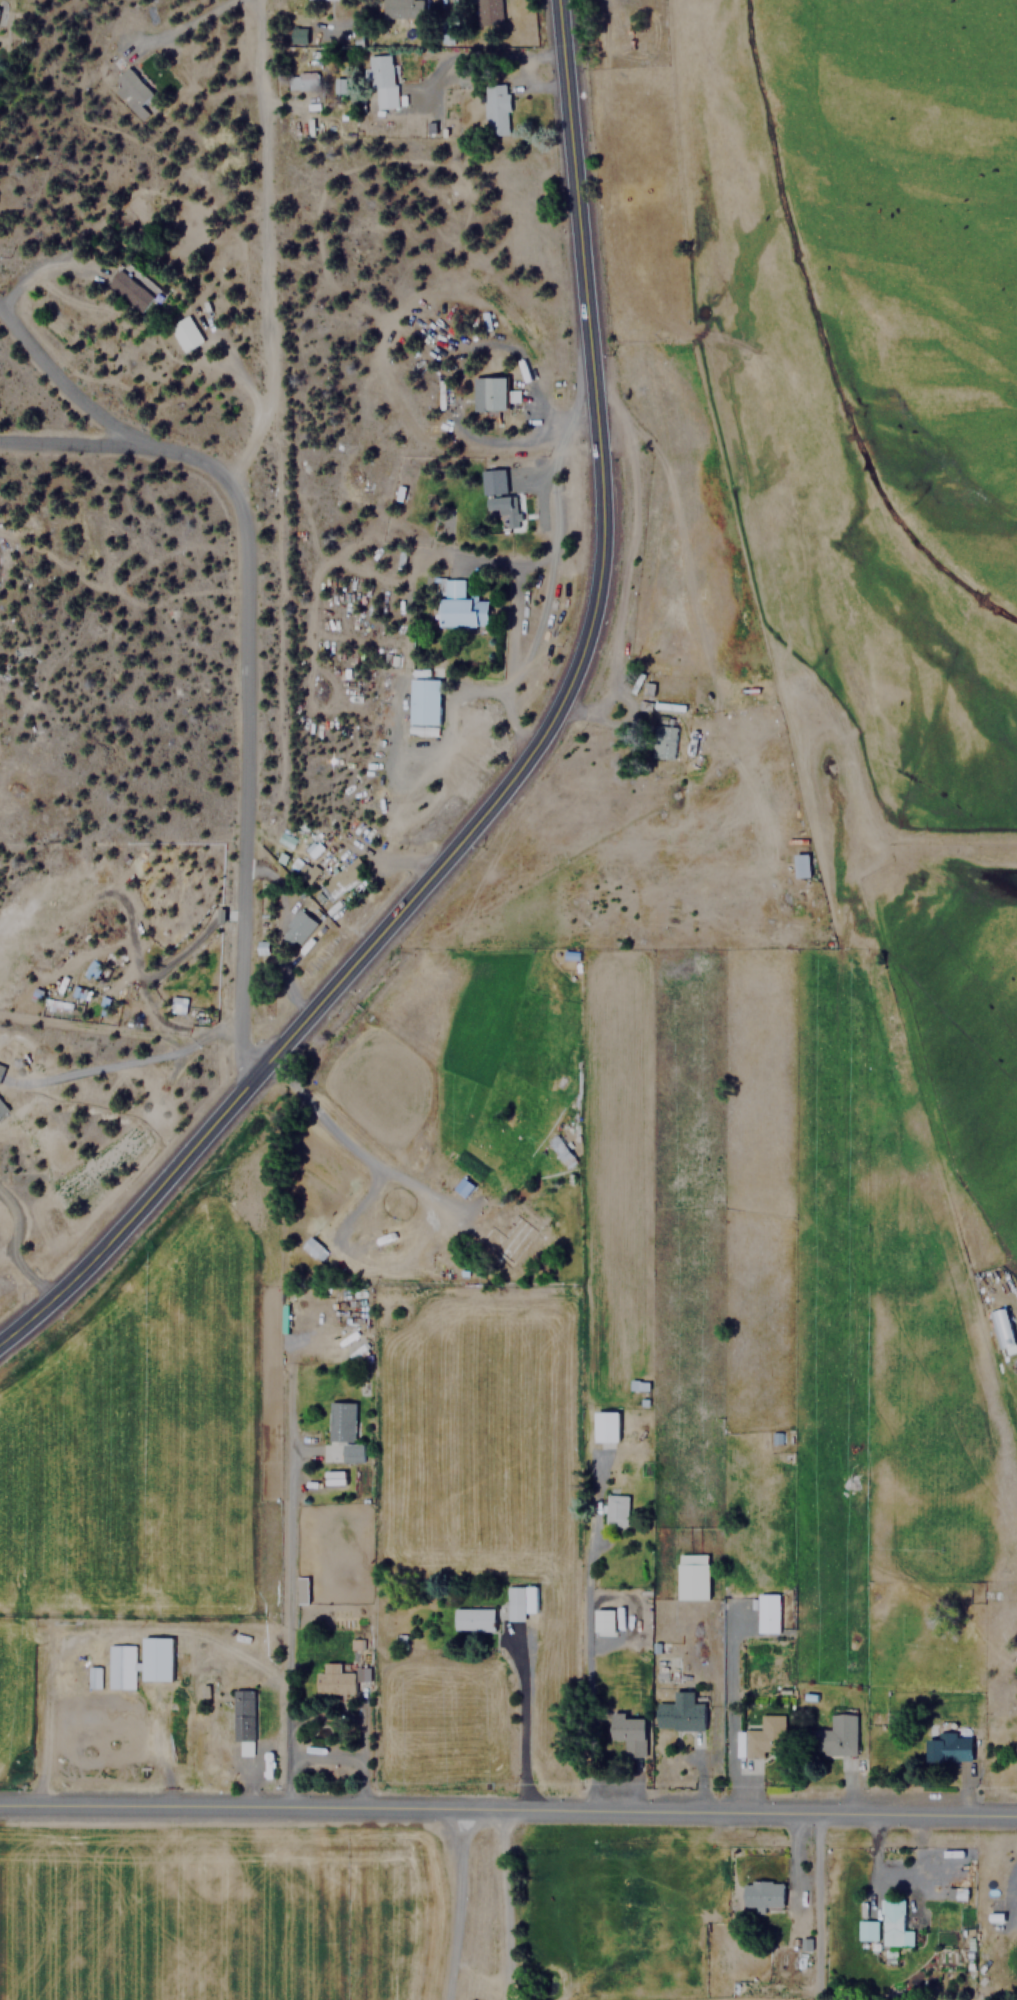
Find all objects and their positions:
building: (487, 7)
building: (401, 9)
building: (299, 35)
road: (475, 49)
building: (302, 80)
building: (381, 81)
building: (339, 85)
building: (130, 91)
building: (495, 109)
road: (39, 271)
building: (127, 291)
building: (183, 333)
building: (489, 394)
road: (103, 415)
road: (522, 439)
road: (71, 443)
road: (553, 460)
building: (503, 510)
road: (245, 539)
road: (505, 564)
building: (459, 605)
road: (543, 606)
building: (423, 701)
building: (664, 736)
road: (520, 762)
building: (313, 848)
building: (800, 865)
building: (302, 868)
building: (342, 877)
building: (299, 929)
road: (133, 1061)
building: (0, 1066)
building: (1, 1110)
building: (559, 1150)
building: (521, 1236)
building: (312, 1248)
road: (14, 1250)
building: (1000, 1331)
building: (638, 1385)
building: (605, 1426)
building: (341, 1434)
building: (616, 1509)
building: (692, 1576)
building: (519, 1601)
building: (767, 1612)
building: (472, 1618)
building: (603, 1621)
road: (288, 1623)
building: (139, 1662)
building: (94, 1677)
building: (338, 1679)
building: (679, 1712)
building: (243, 1720)
road: (515, 1723)
building: (626, 1727)
building: (765, 1736)
building: (833, 1737)
building: (947, 1745)
building: (1016, 1749)
road: (508, 1809)
building: (761, 1893)
road: (456, 1904)
road: (505, 1904)
building: (893, 1924)
building: (867, 1930)
building: (756, 1981)

